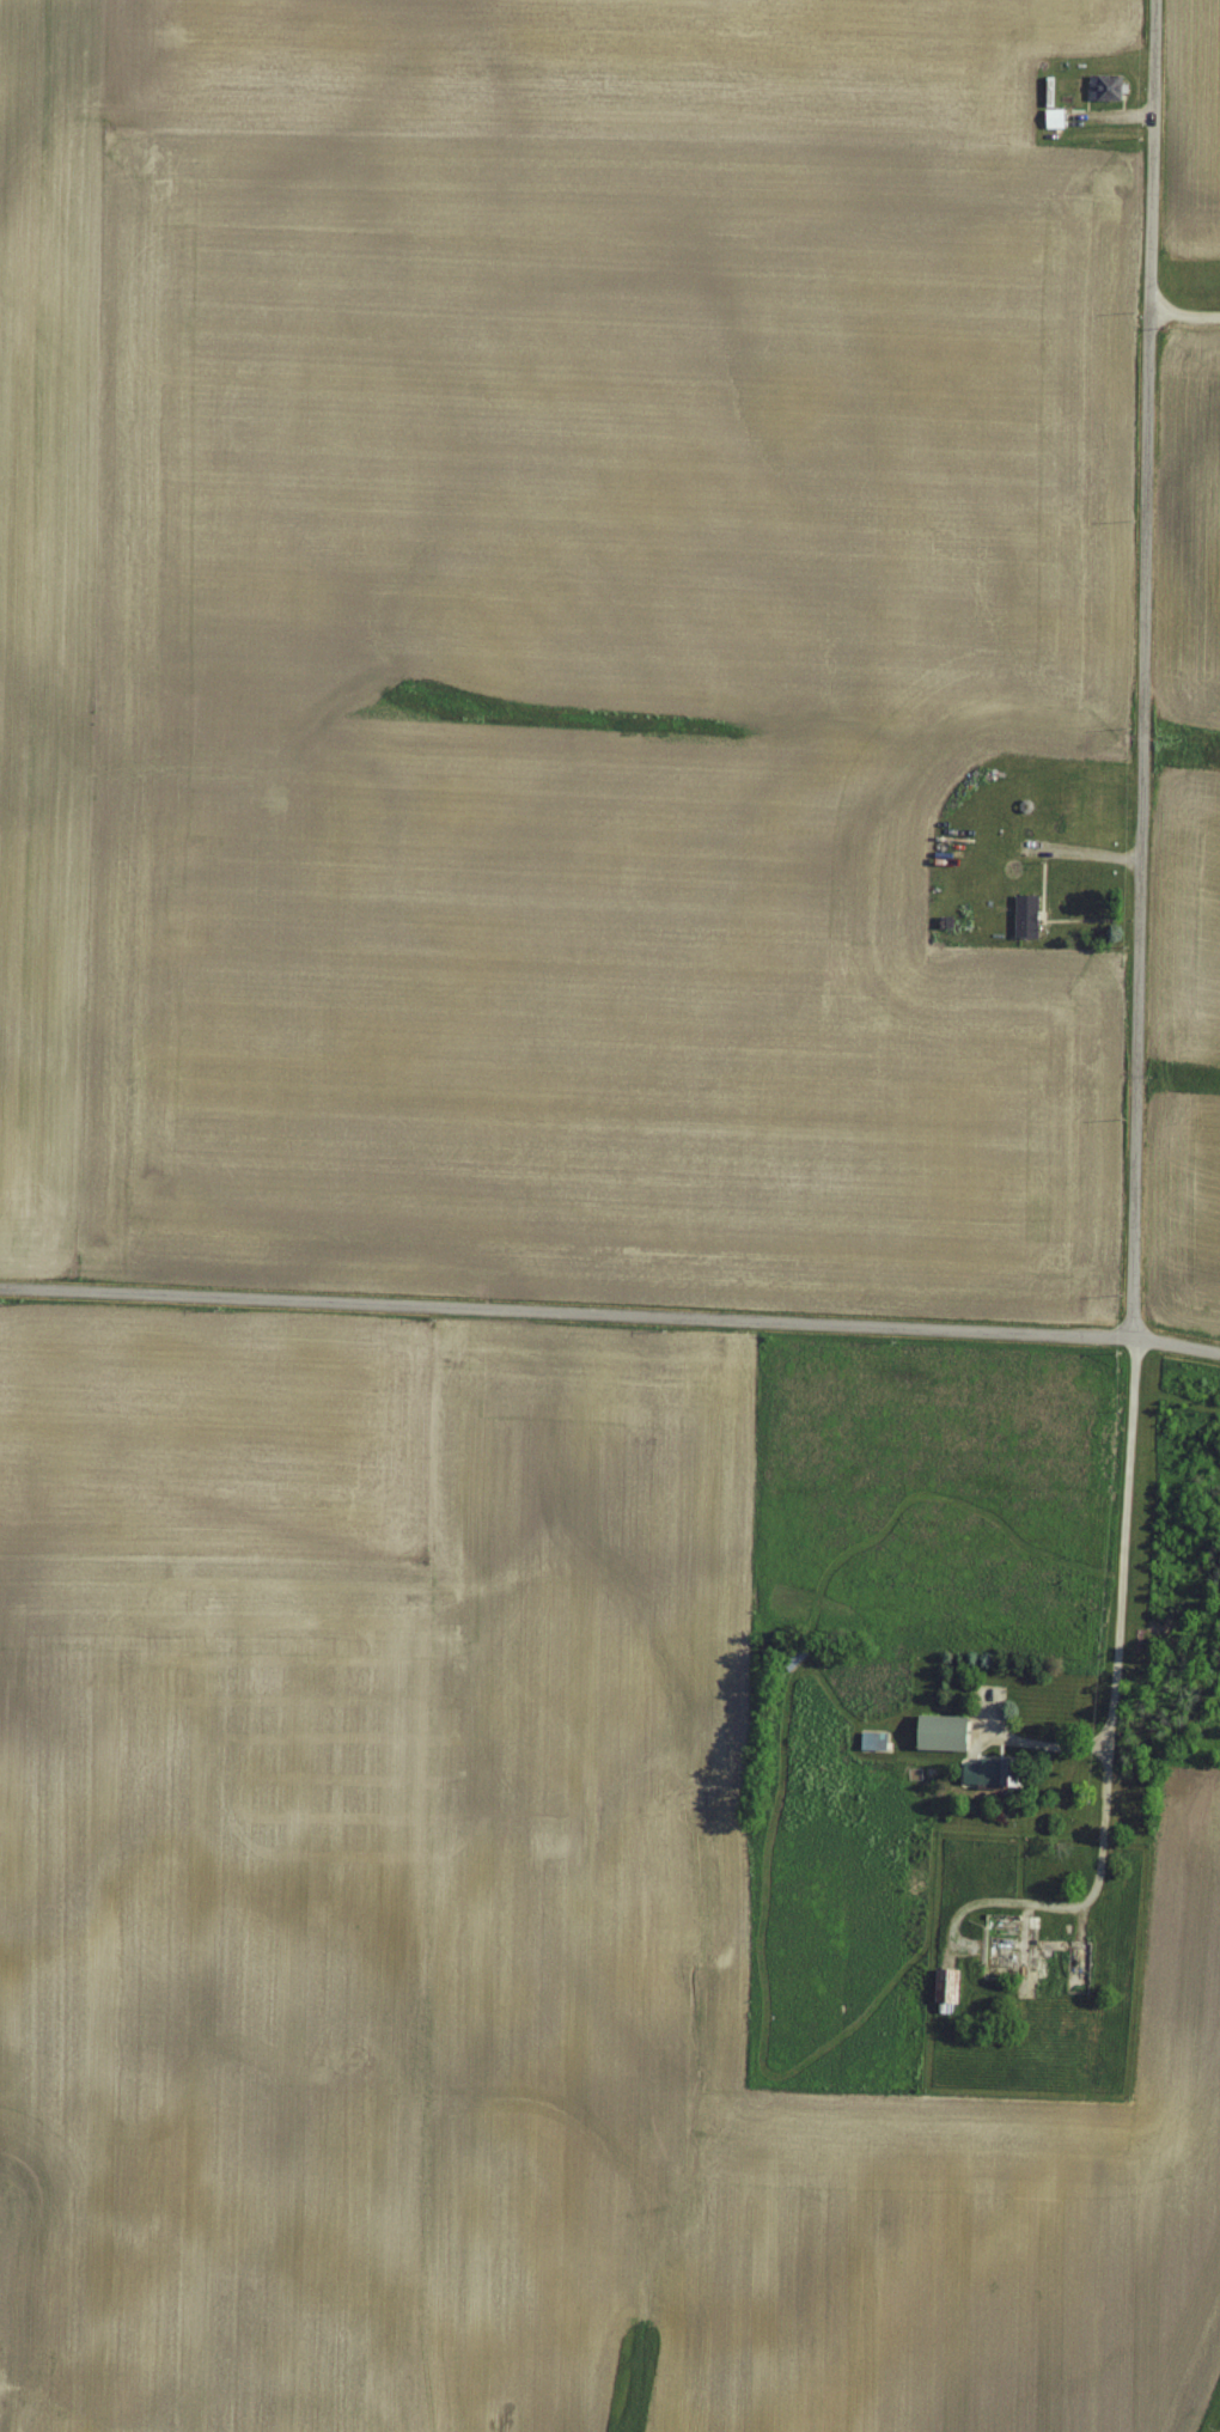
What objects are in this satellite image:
road: (1183, 316)
road: (1140, 670)
road: (610, 1319)
road: (1108, 1712)
road: (1050, 1755)

